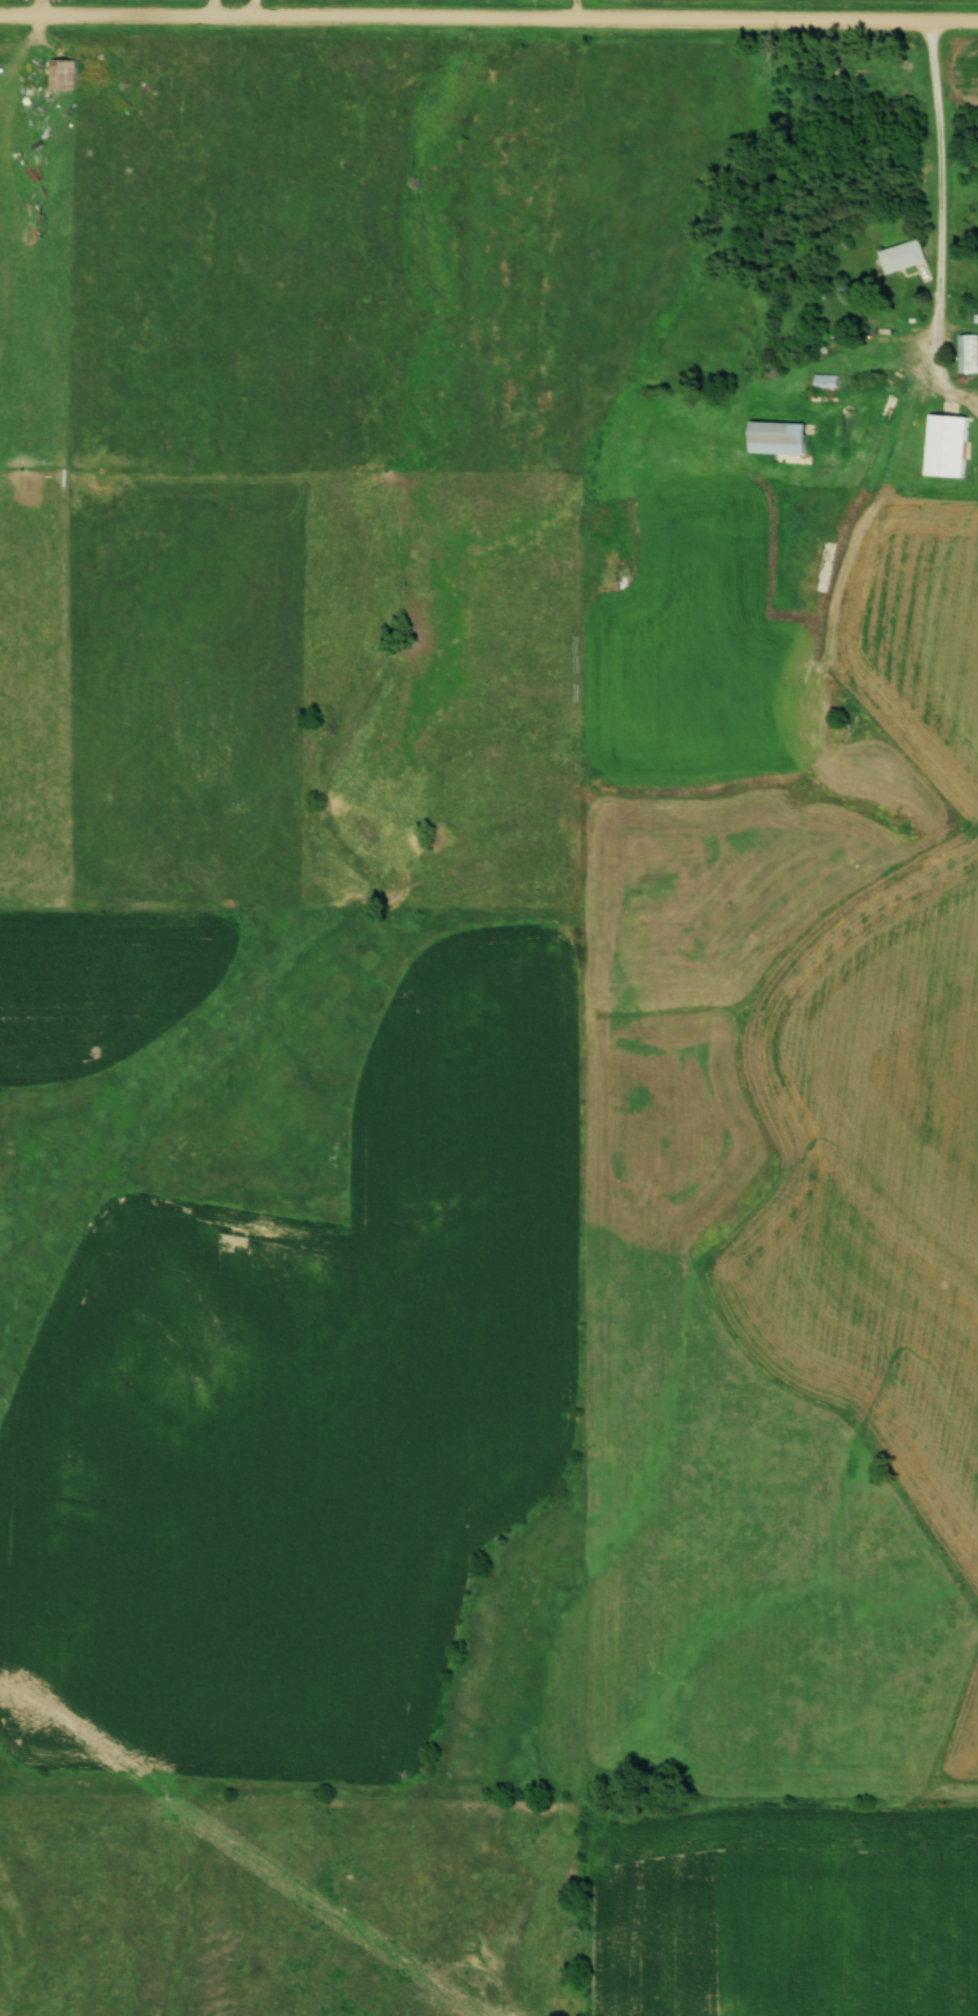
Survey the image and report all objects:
road: (489, 20)
road: (940, 189)
building: (902, 256)
building: (968, 353)
building: (825, 381)
building: (775, 438)
building: (945, 446)

